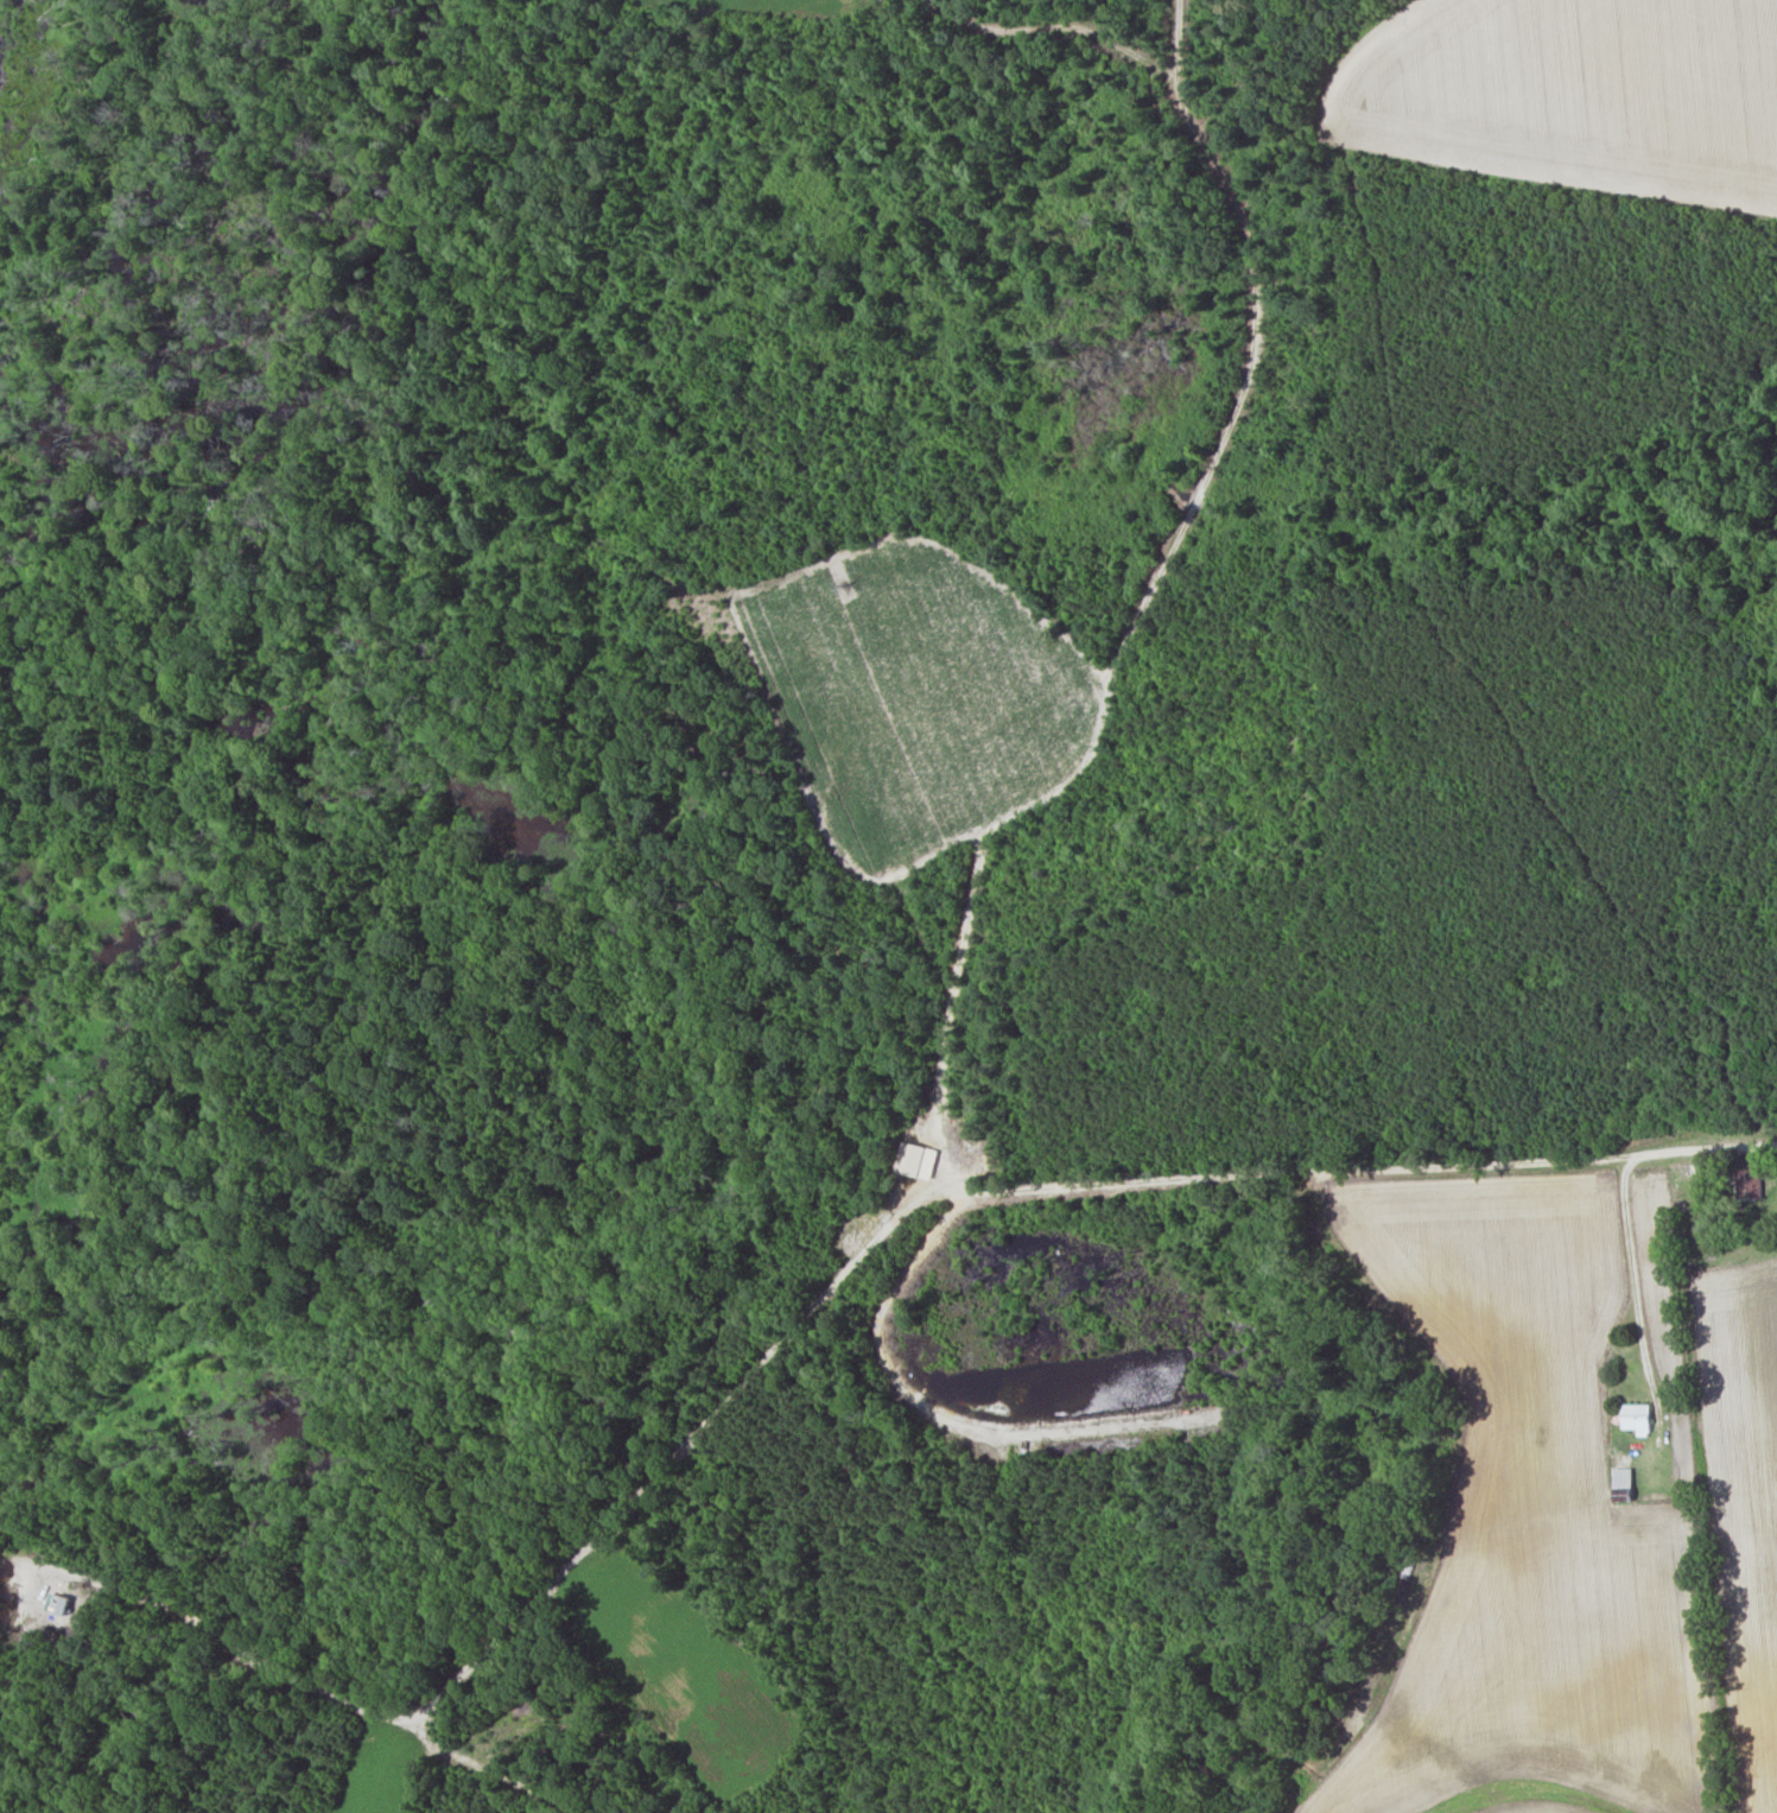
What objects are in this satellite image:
building: (1637, 1418)

